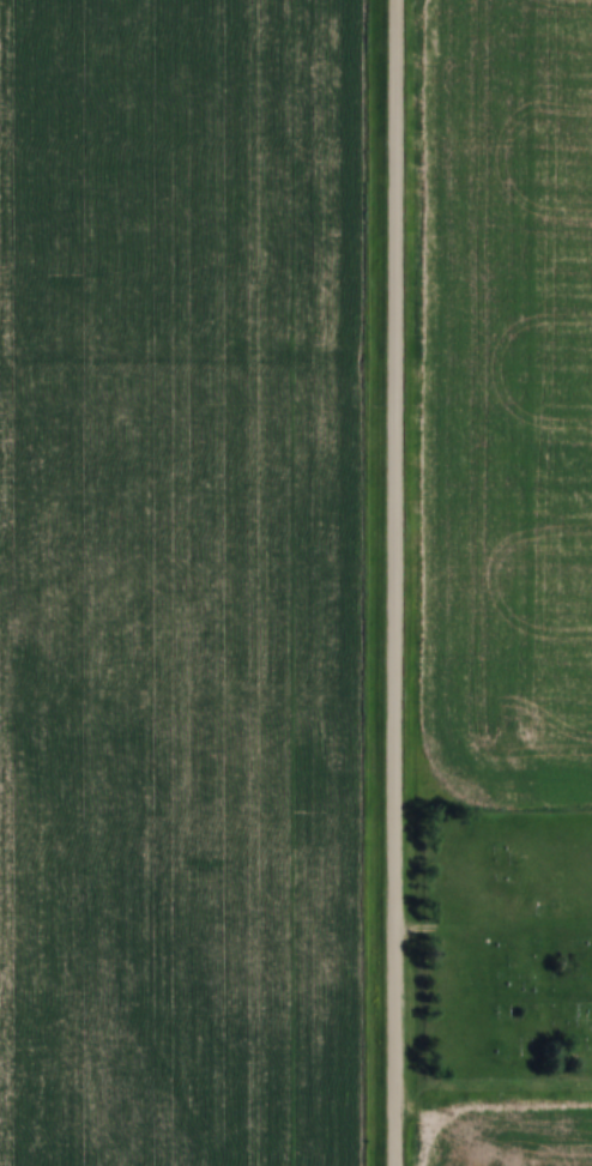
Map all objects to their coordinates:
road: (393, 582)

